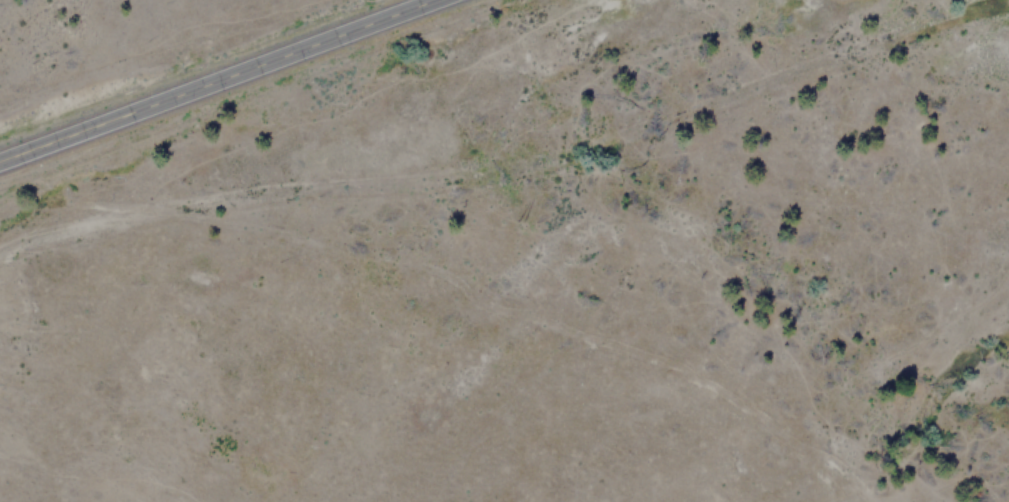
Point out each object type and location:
road: (214, 80)

